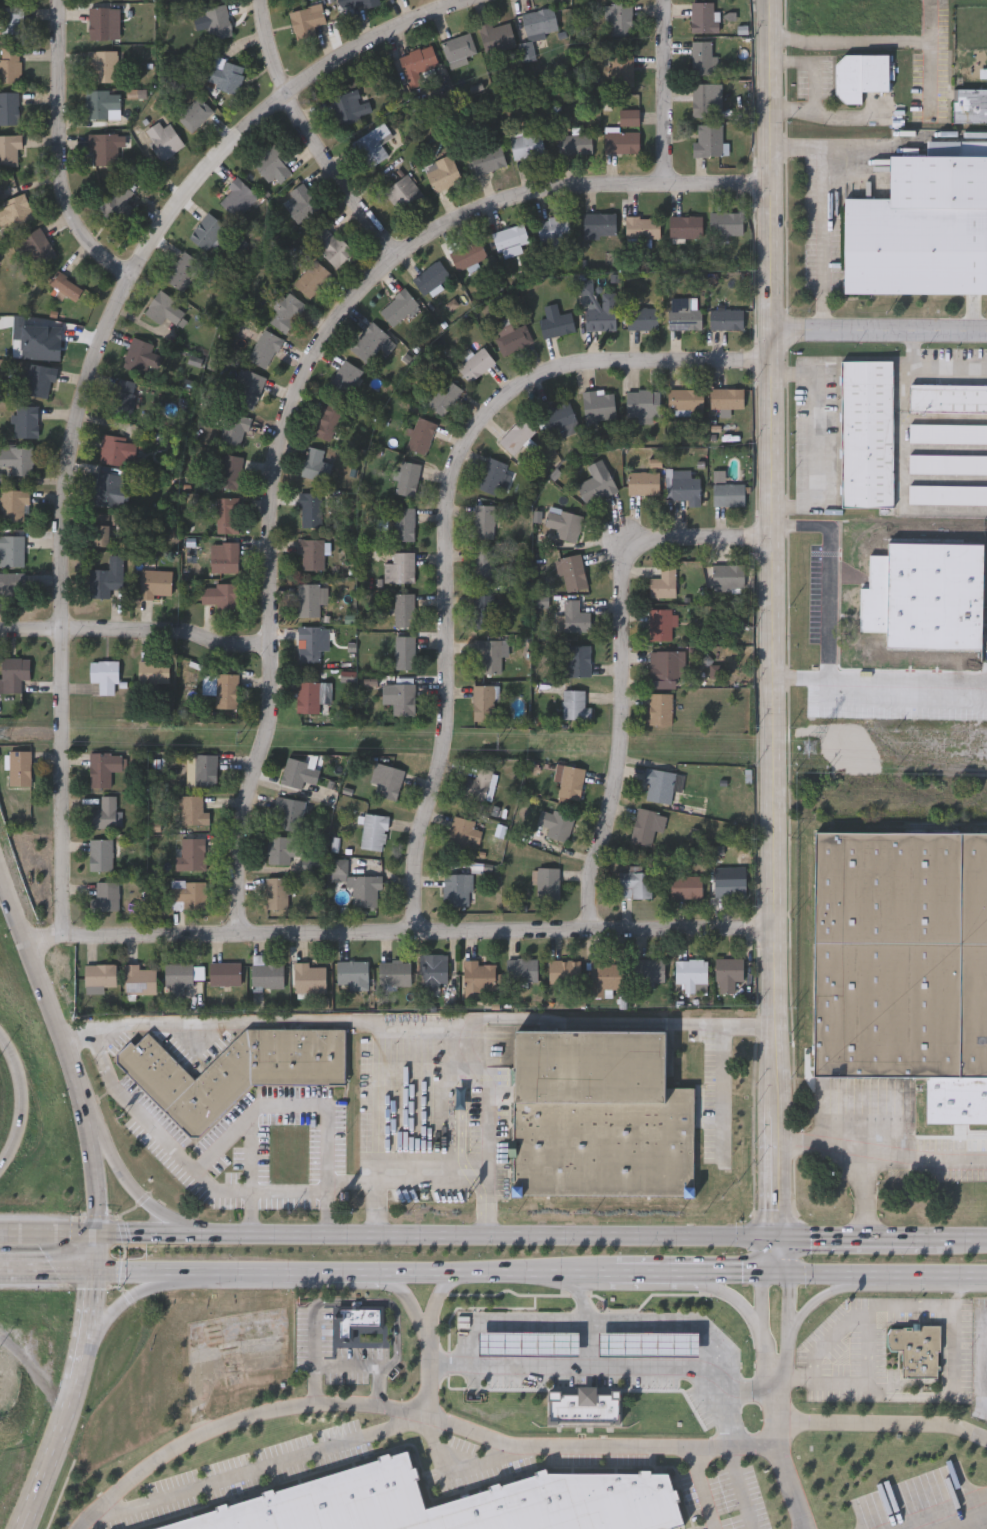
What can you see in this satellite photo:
building: (201, 0)
building: (356, 1)
road: (466, 2)
building: (704, 15)
building: (620, 16)
building: (305, 18)
building: (539, 18)
building: (217, 19)
building: (12, 20)
building: (99, 20)
building: (496, 34)
road: (868, 41)
building: (459, 45)
building: (703, 55)
building: (417, 57)
building: (10, 62)
building: (102, 63)
building: (622, 68)
building: (224, 72)
building: (860, 74)
road: (930, 76)
road: (813, 86)
road: (660, 92)
building: (702, 97)
building: (102, 101)
building: (969, 103)
building: (349, 104)
building: (8, 106)
building: (194, 111)
building: (629, 115)
road: (853, 116)
building: (162, 136)
road: (306, 136)
building: (708, 138)
building: (621, 140)
building: (576, 142)
building: (371, 143)
building: (527, 144)
road: (934, 146)
road: (65, 147)
building: (102, 147)
road: (851, 147)
building: (10, 148)
building: (487, 156)
building: (272, 163)
building: (442, 171)
building: (403, 192)
building: (237, 196)
building: (116, 201)
building: (301, 201)
building: (15, 209)
road: (820, 213)
building: (599, 221)
building: (725, 221)
building: (642, 225)
building: (686, 225)
building: (921, 227)
building: (206, 229)
building: (555, 229)
building: (509, 235)
building: (34, 243)
building: (330, 244)
building: (468, 253)
building: (181, 268)
building: (430, 275)
building: (310, 276)
building: (64, 284)
building: (398, 305)
building: (163, 306)
building: (284, 308)
building: (602, 312)
building: (683, 312)
building: (642, 316)
building: (726, 317)
building: (555, 319)
road: (878, 334)
building: (46, 336)
building: (512, 337)
building: (368, 340)
building: (264, 346)
building: (137, 353)
building: (475, 362)
road: (934, 365)
road: (83, 368)
building: (38, 377)
building: (343, 378)
road: (294, 385)
building: (247, 386)
building: (124, 394)
building: (444, 394)
building: (726, 395)
building: (685, 396)
building: (948, 396)
building: (641, 400)
building: (598, 402)
building: (557, 414)
building: (326, 418)
building: (26, 419)
building: (234, 425)
building: (867, 432)
building: (948, 432)
building: (421, 433)
building: (516, 434)
road: (813, 439)
building: (116, 448)
building: (17, 457)
building: (315, 462)
building: (948, 462)
building: (229, 469)
building: (491, 474)
building: (407, 476)
building: (596, 480)
building: (642, 481)
building: (685, 485)
building: (108, 487)
building: (728, 492)
building: (948, 493)
building: (14, 502)
building: (310, 508)
building: (227, 513)
road: (770, 514)
road: (446, 518)
building: (483, 519)
building: (404, 521)
building: (562, 523)
building: (101, 527)
building: (12, 548)
building: (311, 551)
building: (226, 556)
building: (483, 563)
building: (399, 566)
building: (572, 570)
building: (690, 570)
building: (727, 574)
building: (106, 576)
building: (155, 580)
building: (8, 581)
building: (663, 581)
building: (219, 593)
building: (308, 597)
building: (925, 598)
road: (829, 602)
building: (403, 607)
building: (483, 608)
building: (575, 615)
building: (660, 622)
road: (133, 632)
building: (310, 641)
building: (403, 649)
building: (488, 652)
building: (578, 659)
building: (670, 663)
road: (617, 664)
building: (153, 669)
building: (15, 671)
building: (104, 673)
building: (221, 687)
road: (830, 687)
building: (308, 695)
building: (403, 697)
building: (483, 700)
building: (574, 703)
building: (659, 707)
power tower: (4, 735)
power tower: (810, 750)
building: (104, 765)
building: (20, 766)
building: (202, 767)
building: (299, 771)
building: (386, 778)
building: (570, 780)
building: (662, 782)
building: (478, 783)
building: (192, 808)
building: (104, 810)
building: (288, 811)
building: (555, 822)
building: (644, 824)
railway: (902, 825)
building: (373, 830)
building: (463, 832)
building: (283, 846)
building: (101, 852)
building: (190, 852)
building: (547, 880)
building: (728, 880)
building: (356, 881)
building: (635, 881)
building: (685, 884)
building: (457, 887)
building: (276, 890)
building: (107, 893)
building: (189, 893)
road: (417, 928)
road: (43, 937)
building: (900, 954)
building: (521, 968)
building: (648, 969)
building: (351, 970)
building: (394, 970)
building: (432, 970)
building: (563, 970)
building: (224, 971)
building: (265, 971)
building: (691, 972)
building: (727, 972)
building: (100, 973)
building: (181, 974)
building: (479, 974)
building: (308, 975)
building: (604, 975)
building: (139, 978)
road: (416, 1025)
building: (233, 1070)
road: (724, 1087)
road: (20, 1103)
road: (288, 1105)
building: (599, 1113)
road: (489, 1129)
road: (777, 1151)
road: (860, 1152)
road: (251, 1154)
road: (925, 1161)
road: (199, 1175)
road: (400, 1175)
road: (136, 1189)
road: (97, 1193)
road: (326, 1213)
road: (250, 1215)
traffic signals: (97, 1236)
road: (388, 1239)
traffic signals: (778, 1241)
road: (862, 1241)
road: (967, 1241)
road: (499, 1272)
road: (629, 1272)
road: (674, 1272)
road: (740, 1273)
road: (291, 1274)
traffic signals: (778, 1274)
road: (825, 1274)
road: (929, 1274)
road: (145, 1275)
road: (47, 1276)
traffic signals: (95, 1276)
road: (727, 1294)
road: (444, 1299)
road: (414, 1300)
road: (811, 1302)
road: (392, 1304)
road: (124, 1308)
road: (766, 1314)
road: (785, 1315)
building: (357, 1318)
road: (593, 1319)
road: (591, 1321)
road: (315, 1338)
building: (528, 1342)
gas station: (528, 1342)
building: (649, 1342)
gas station: (649, 1342)
road: (869, 1347)
building: (915, 1347)
road: (350, 1364)
road: (596, 1366)
road: (435, 1375)
road: (796, 1378)
road: (856, 1383)
road: (734, 1396)
building: (584, 1405)
road: (515, 1446)
road: (780, 1447)
road: (258, 1468)
road: (703, 1487)
road: (741, 1487)
building: (453, 1503)
road: (948, 1516)
road: (23, 1528)

